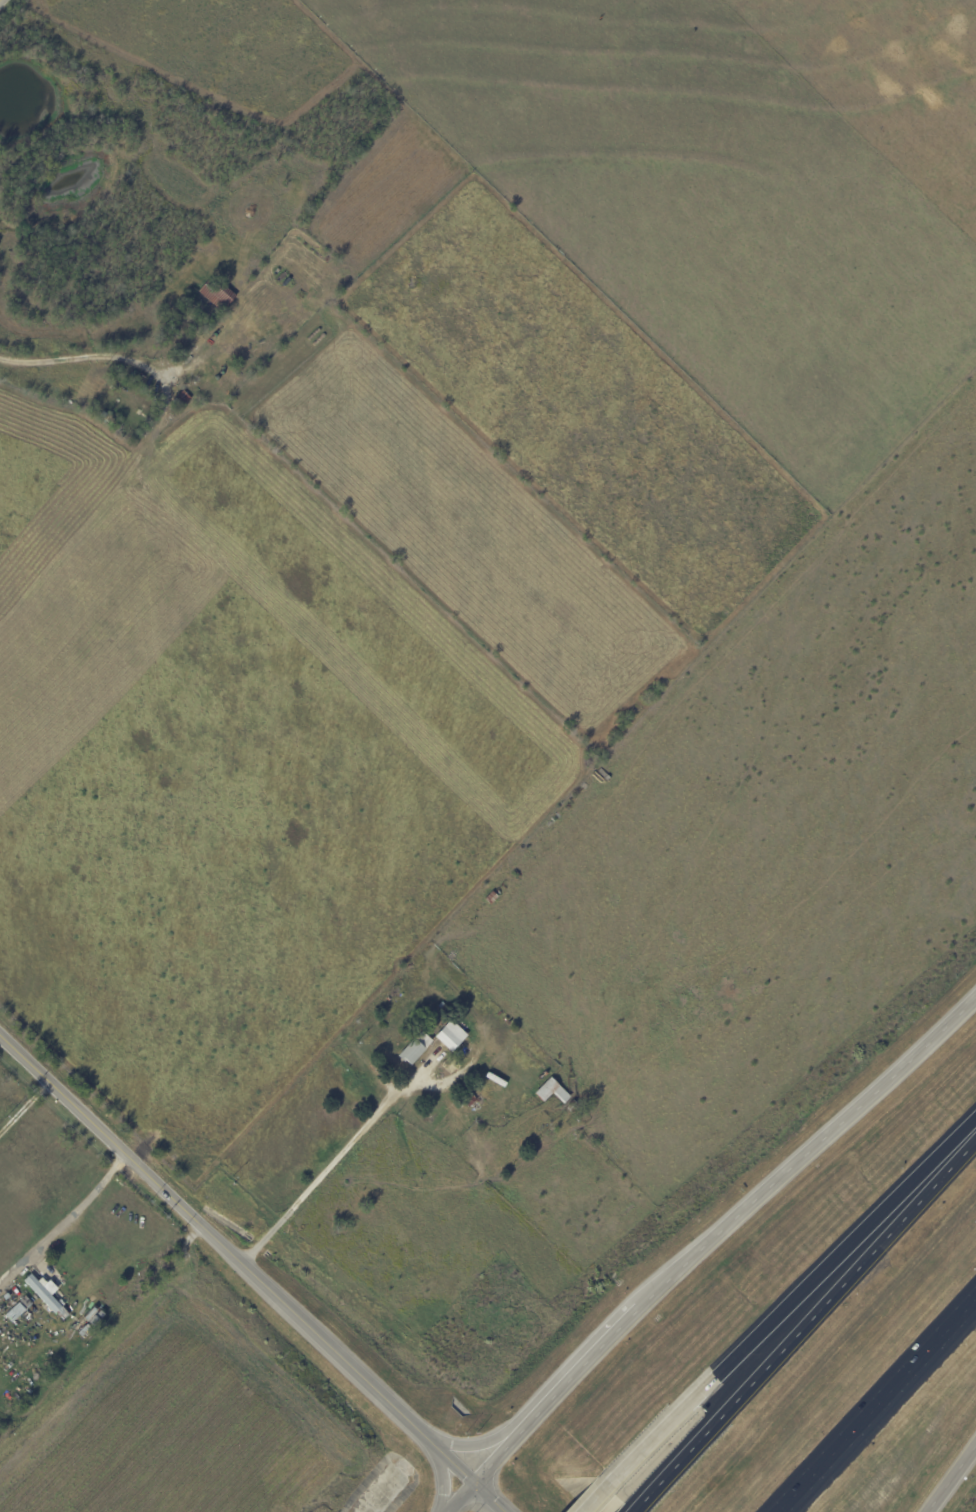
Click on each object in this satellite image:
building: (217, 295)
road: (73, 359)
building: (181, 399)
building: (129, 401)
building: (107, 418)
building: (492, 898)
building: (451, 1036)
building: (415, 1048)
building: (552, 1091)
building: (470, 1100)
building: (38, 1106)
building: (573, 1106)
road: (23, 1109)
building: (555, 1134)
road: (800, 1156)
road: (330, 1166)
road: (62, 1223)
road: (832, 1260)
road: (251, 1275)
building: (44, 1291)
road: (975, 1298)
building: (13, 1311)
road: (803, 1324)
road: (577, 1372)
road: (875, 1406)
road: (479, 1446)
road: (647, 1446)
road: (500, 1454)
road: (441, 1475)
road: (950, 1478)
road: (459, 1497)
road: (594, 1500)

